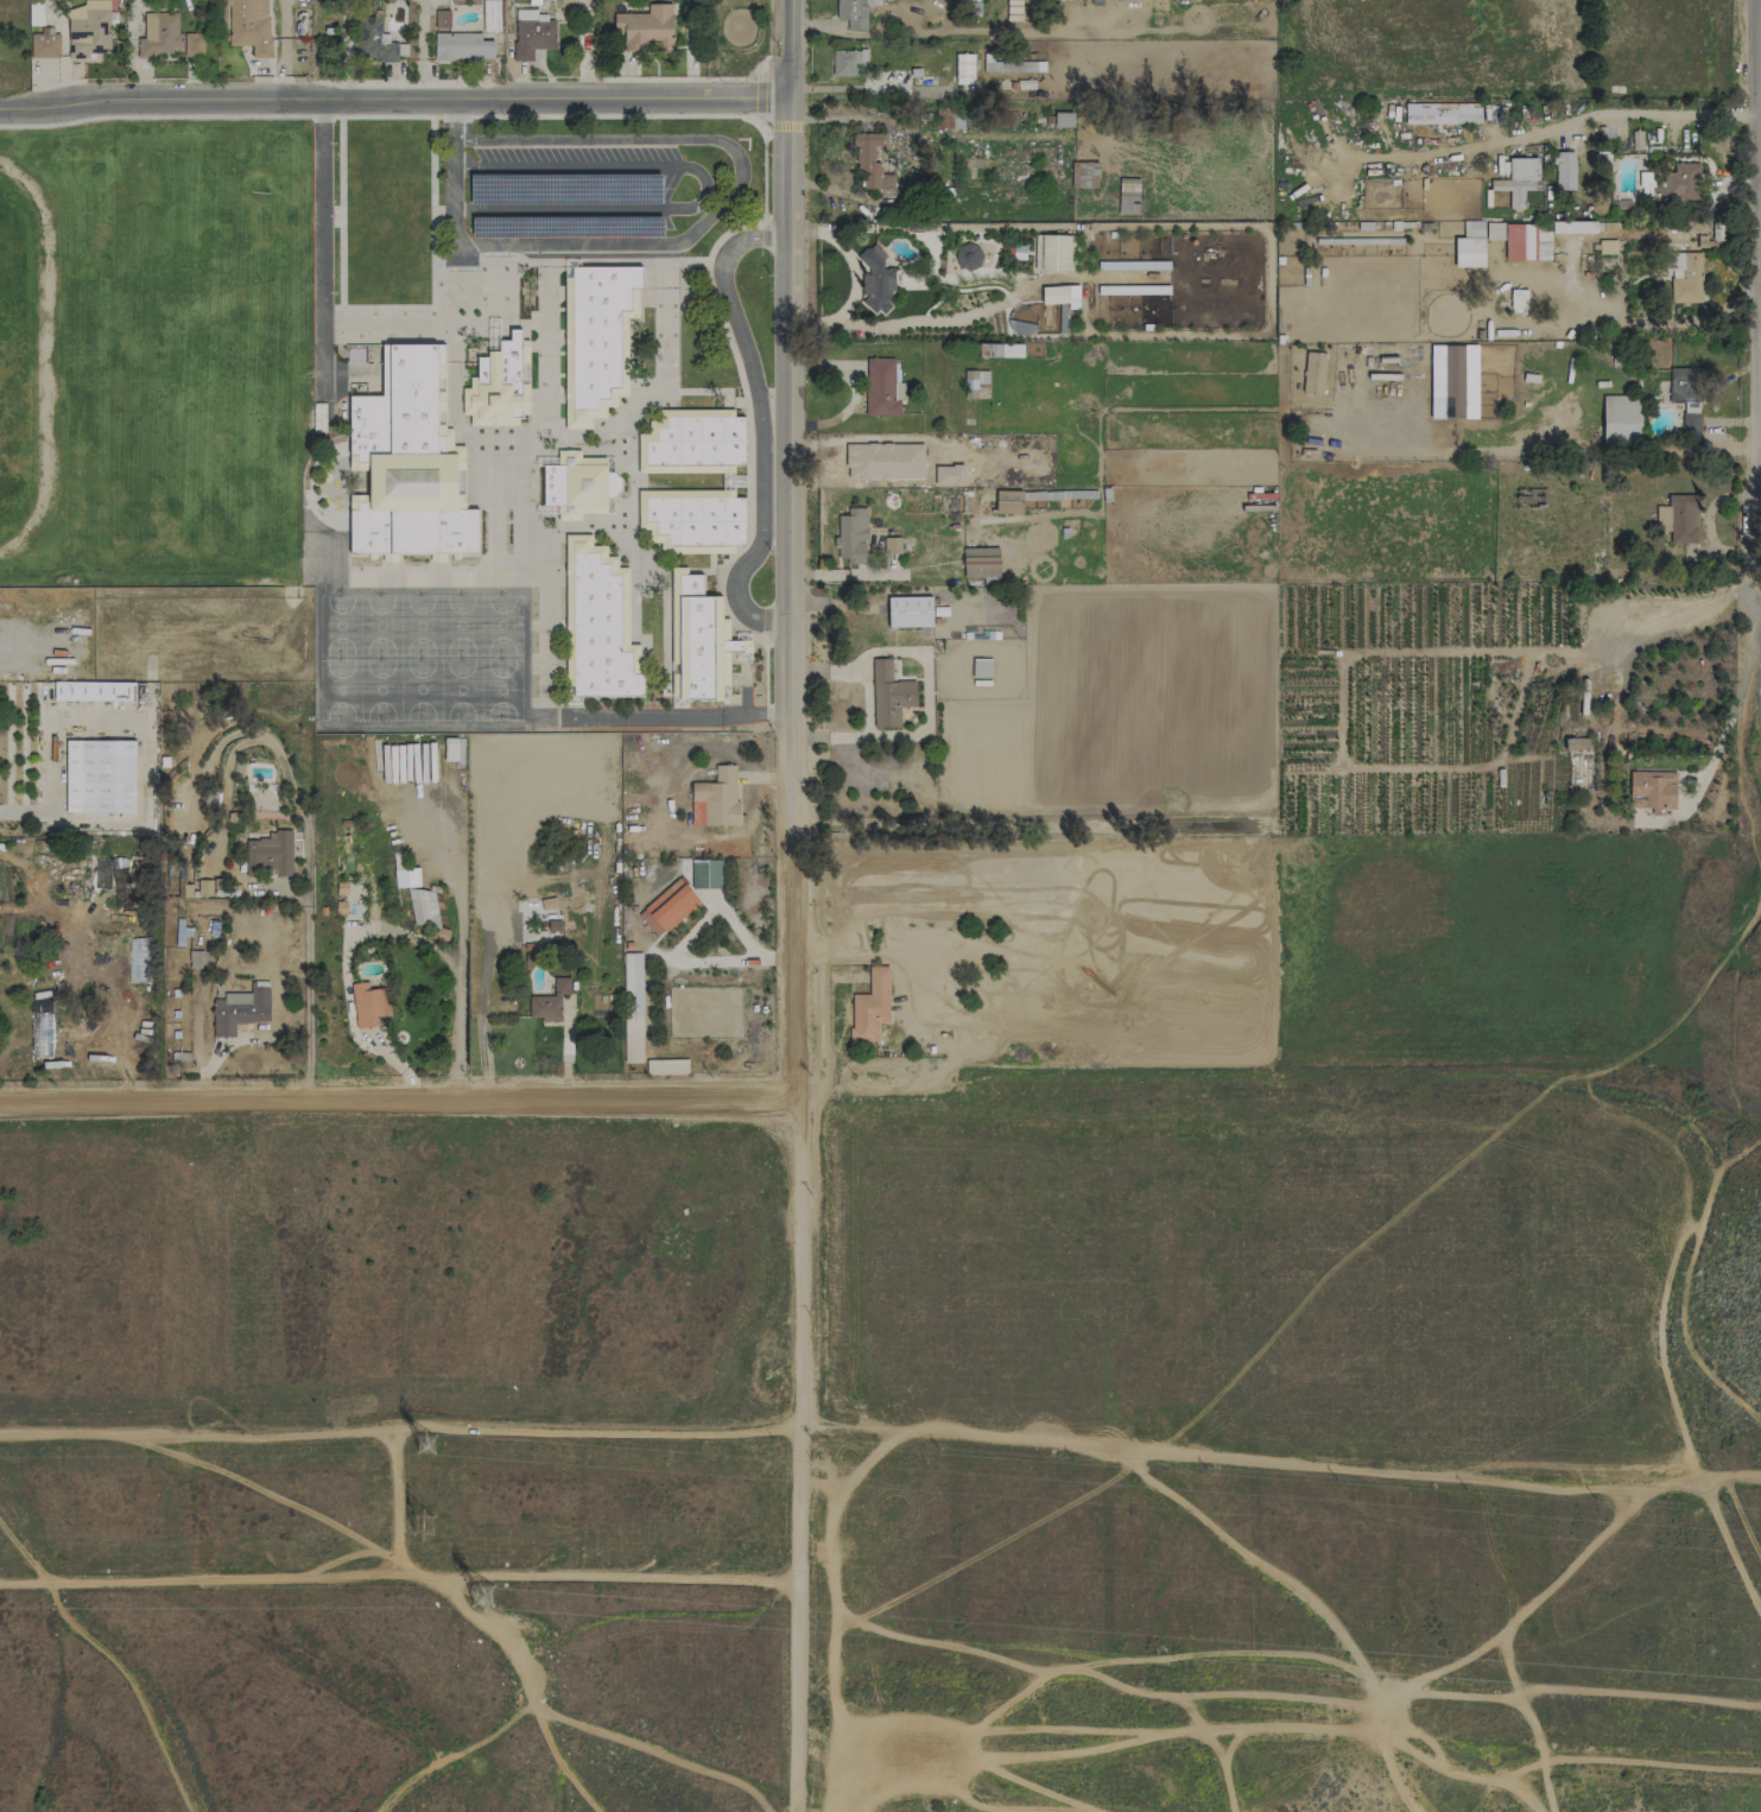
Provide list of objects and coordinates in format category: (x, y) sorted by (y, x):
building: (1014, 9)
building: (855, 12)
building: (442, 20)
building: (249, 25)
building: (88, 28)
building: (646, 28)
building: (532, 34)
building: (167, 38)
building: (44, 43)
building: (462, 46)
road: (420, 50)
building: (848, 62)
building: (1011, 65)
building: (963, 69)
road: (394, 102)
building: (1444, 113)
road: (1577, 115)
road: (758, 119)
road: (465, 139)
building: (868, 160)
road: (465, 165)
building: (1565, 170)
road: (454, 177)
building: (1518, 180)
road: (736, 184)
building: (1672, 185)
road: (703, 201)
park: (386, 214)
building: (1576, 227)
building: (1494, 232)
road: (764, 235)
building: (1527, 241)
building: (1470, 245)
road: (319, 246)
building: (1607, 247)
building: (1054, 253)
building: (968, 256)
building: (1132, 265)
building: (1685, 277)
building: (875, 280)
building: (1054, 294)
building: (1518, 300)
road: (1634, 322)
road: (1756, 329)
building: (596, 340)
park: (183, 349)
road: (1759, 355)
park: (17, 357)
track: (17, 357)
building: (1313, 373)
building: (976, 384)
building: (499, 385)
building: (880, 387)
road: (853, 392)
building: (1686, 395)
building: (1621, 419)
road: (792, 423)
road: (760, 425)
building: (691, 442)
building: (407, 461)
building: (883, 461)
building: (949, 475)
building: (612, 483)
building: (575, 484)
building: (1008, 501)
building: (1683, 519)
building: (851, 536)
building: (892, 544)
building: (981, 564)
building: (910, 612)
road: (765, 622)
building: (598, 623)
building: (701, 639)
building: (93, 691)
building: (888, 695)
road: (680, 718)
road: (1719, 739)
road: (56, 747)
building: (1579, 760)
building: (100, 777)
building: (1652, 791)
building: (718, 797)
building: (268, 854)
building: (705, 874)
building: (406, 878)
road: (284, 886)
road: (45, 905)
building: (423, 907)
building: (667, 907)
road: (370, 927)
building: (549, 1001)
road: (308, 1003)
building: (368, 1005)
building: (870, 1006)
building: (632, 1007)
building: (241, 1009)
road: (400, 1100)
road: (1687, 1281)
road: (798, 1329)
power tower: (426, 1444)
road: (397, 1501)
power tower: (423, 1523)
road: (398, 1572)
power tower: (482, 1595)

